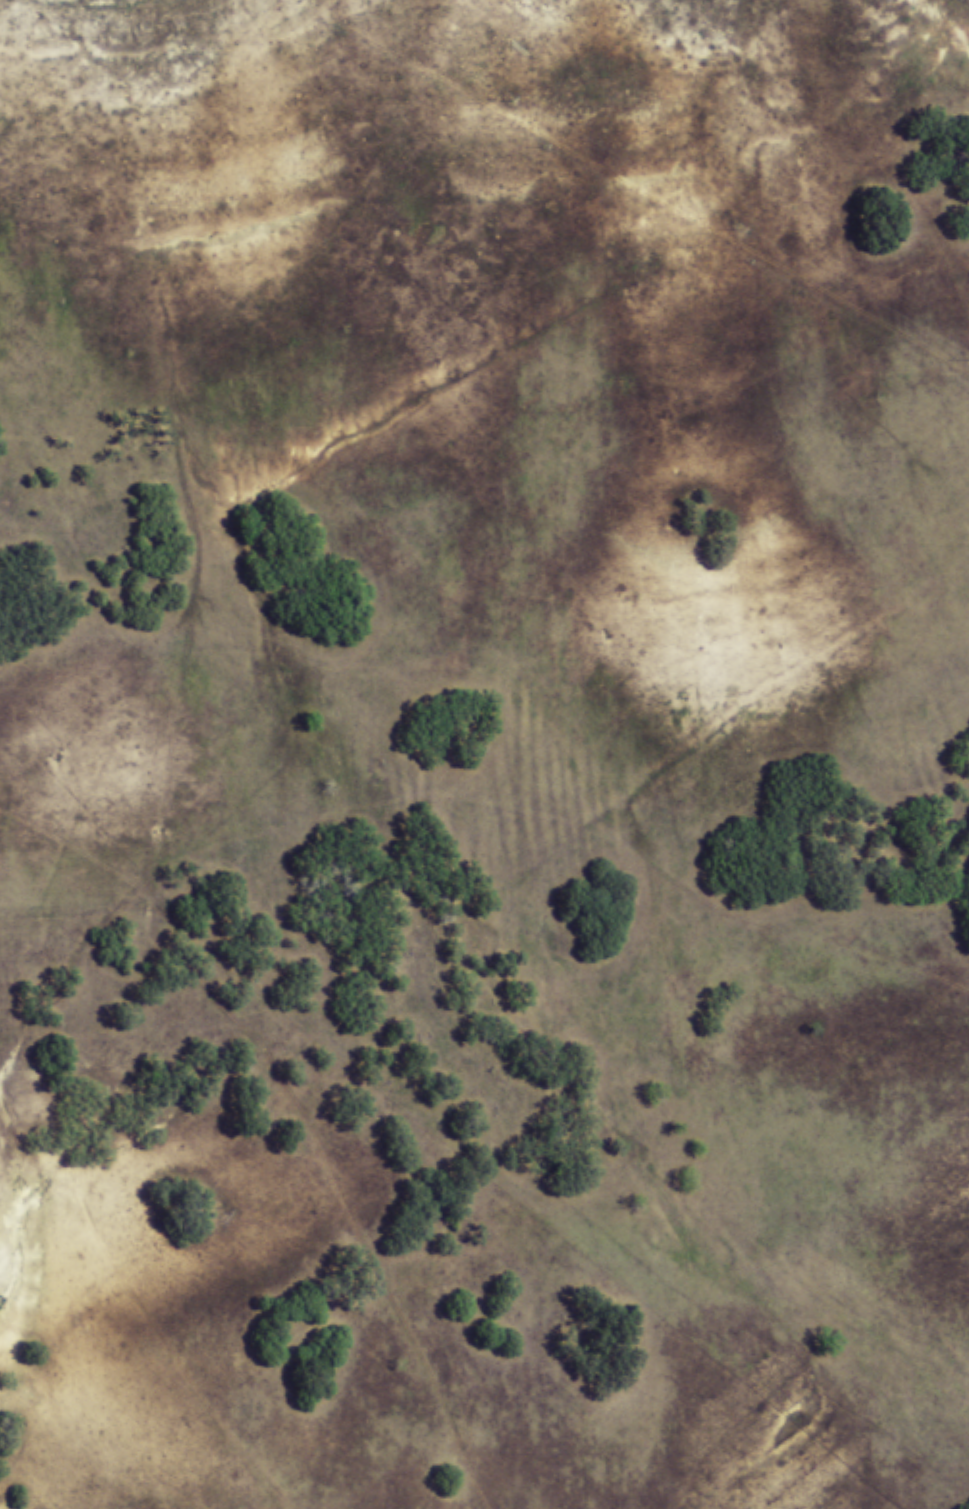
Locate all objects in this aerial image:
power tower: (338, 1)
power tower: (678, 194)

